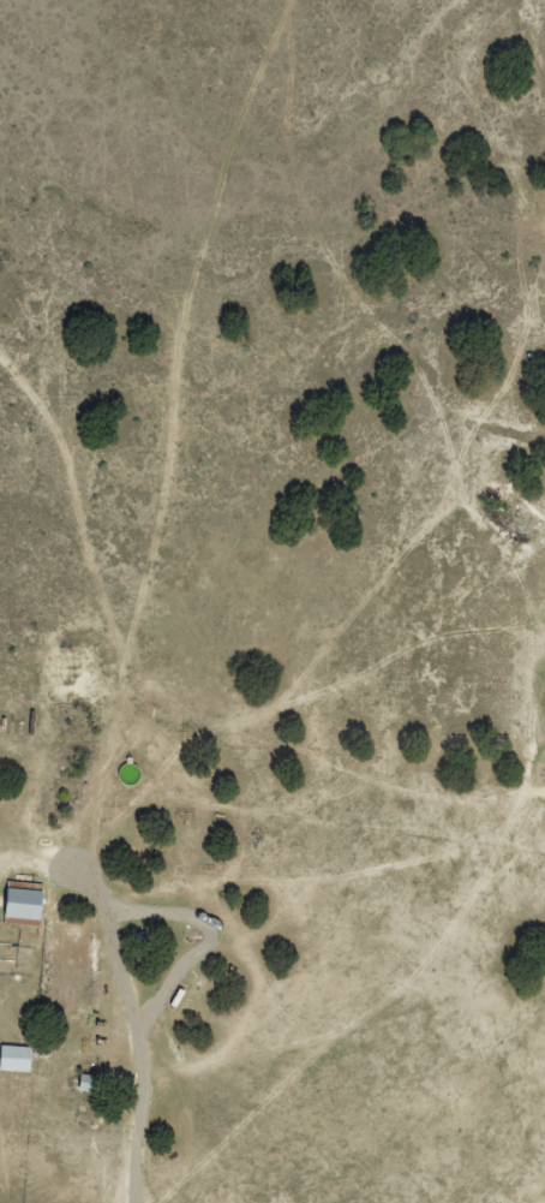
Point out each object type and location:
building: (20, 903)
building: (14, 1058)
building: (84, 1080)

